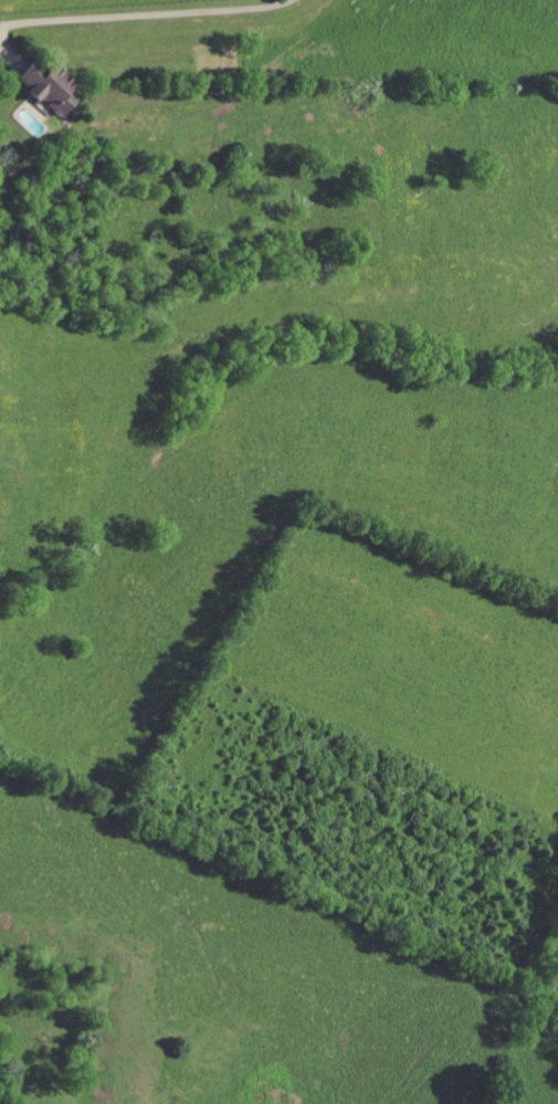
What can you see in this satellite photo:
road: (147, 14)
building: (48, 88)

